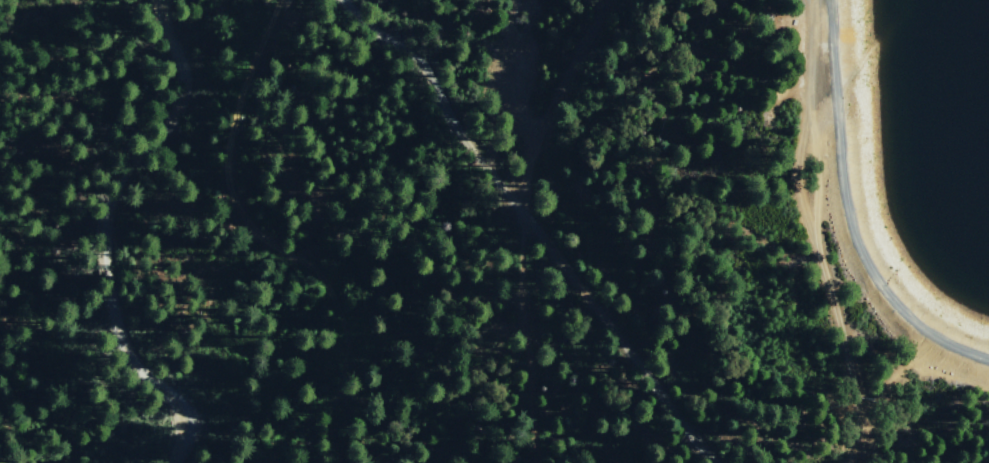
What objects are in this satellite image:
road: (556, 99)
road: (522, 123)
road: (229, 196)
road: (837, 218)
dam: (875, 220)
road: (530, 226)
road: (102, 234)
road: (803, 234)
road: (520, 325)
road: (844, 448)
road: (858, 448)

